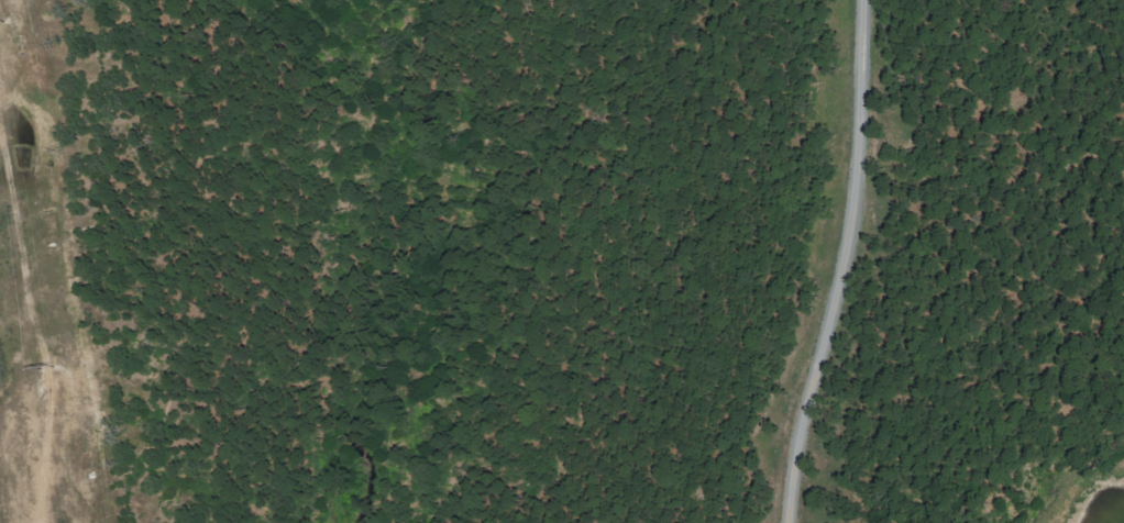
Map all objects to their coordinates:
road: (845, 263)

